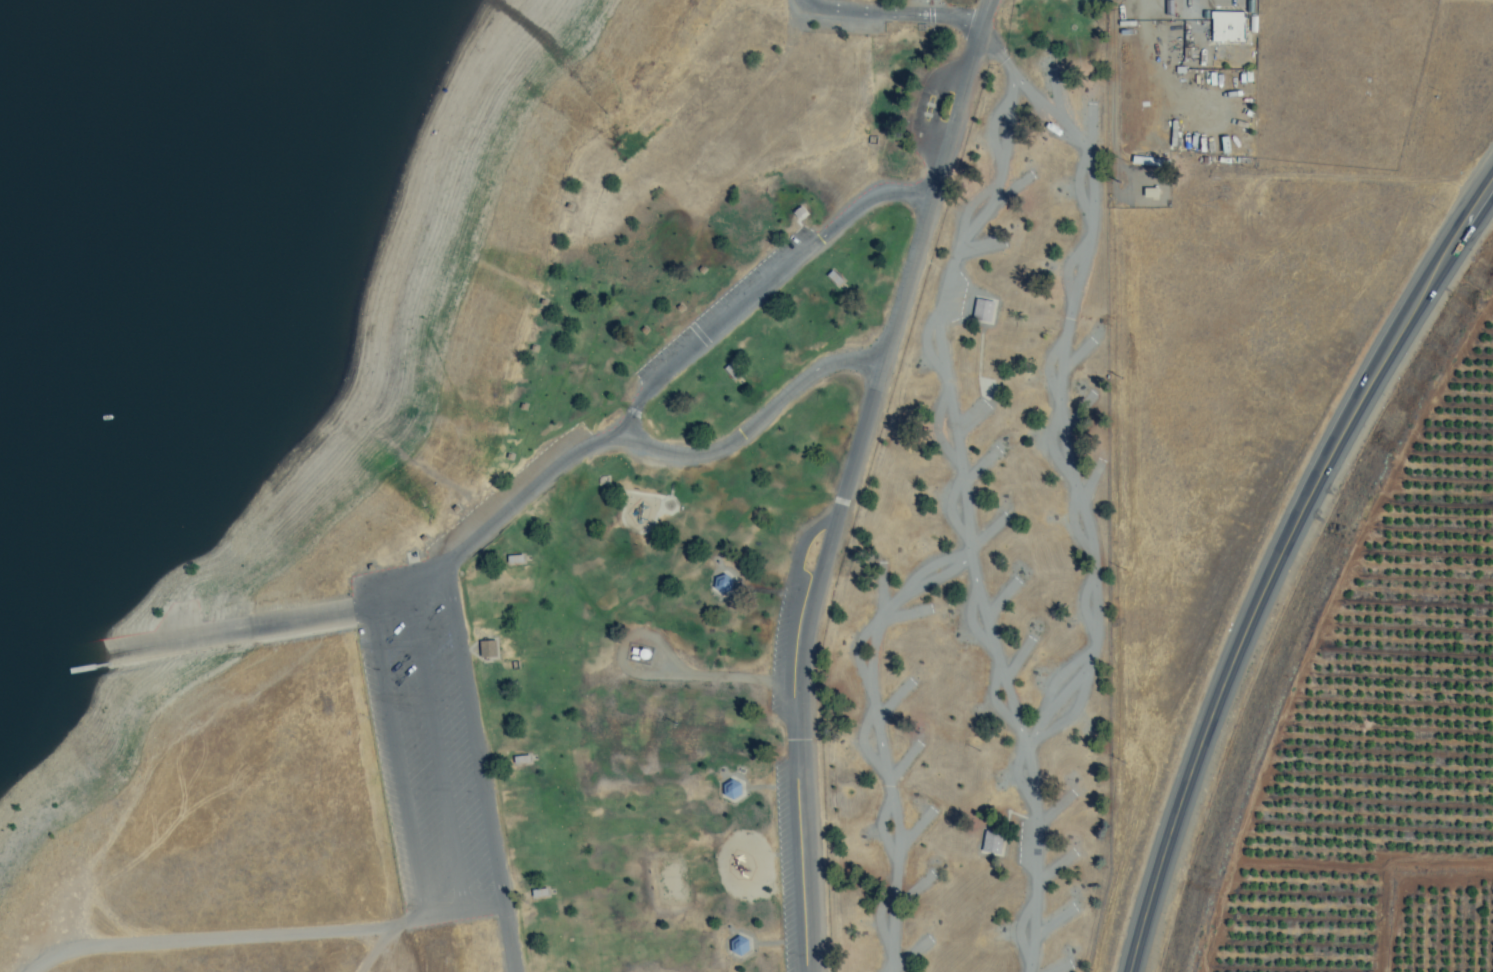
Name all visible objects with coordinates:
building: (1227, 26)
building: (592, 282)
road: (763, 285)
building: (982, 310)
road: (759, 417)
building: (1053, 451)
road: (851, 479)
building: (632, 513)
road: (1273, 555)
building: (722, 584)
building: (486, 649)
road: (462, 653)
crop: (1362, 678)
building: (991, 843)
building: (538, 892)

